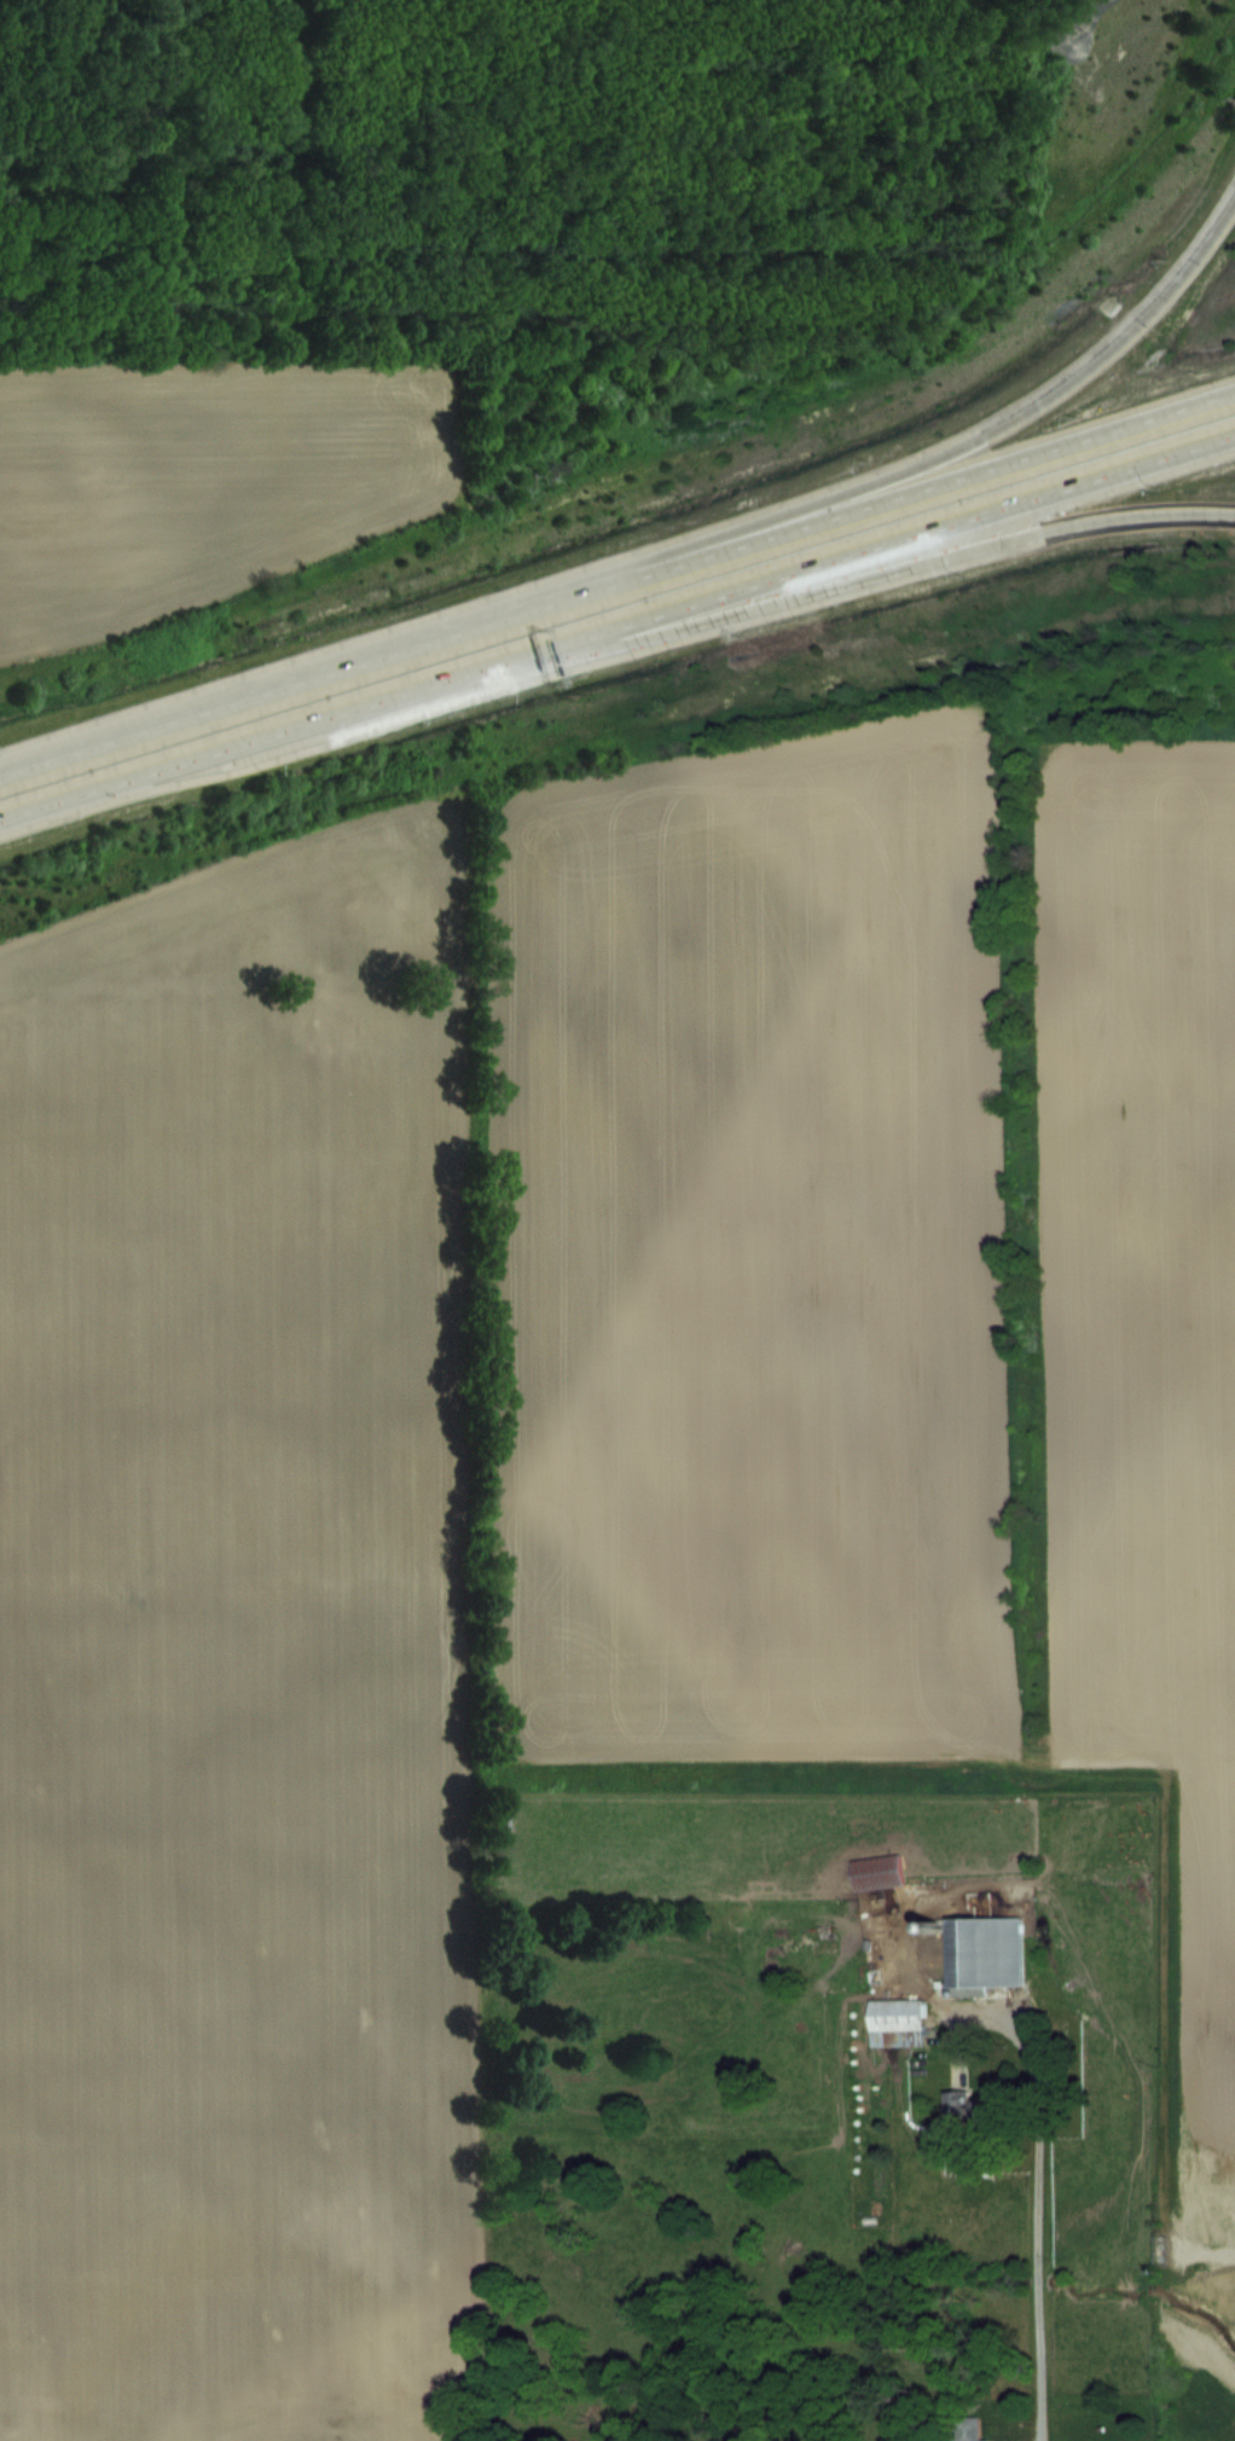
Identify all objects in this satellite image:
road: (1089, 18)
crop: (207, 471)
road: (860, 485)
road: (616, 585)
road: (831, 585)
road: (616, 630)
crop: (572, 1465)
building: (877, 1872)
building: (985, 1954)
building: (898, 2023)
building: (972, 2105)
road: (1038, 2221)
building: (964, 2428)

